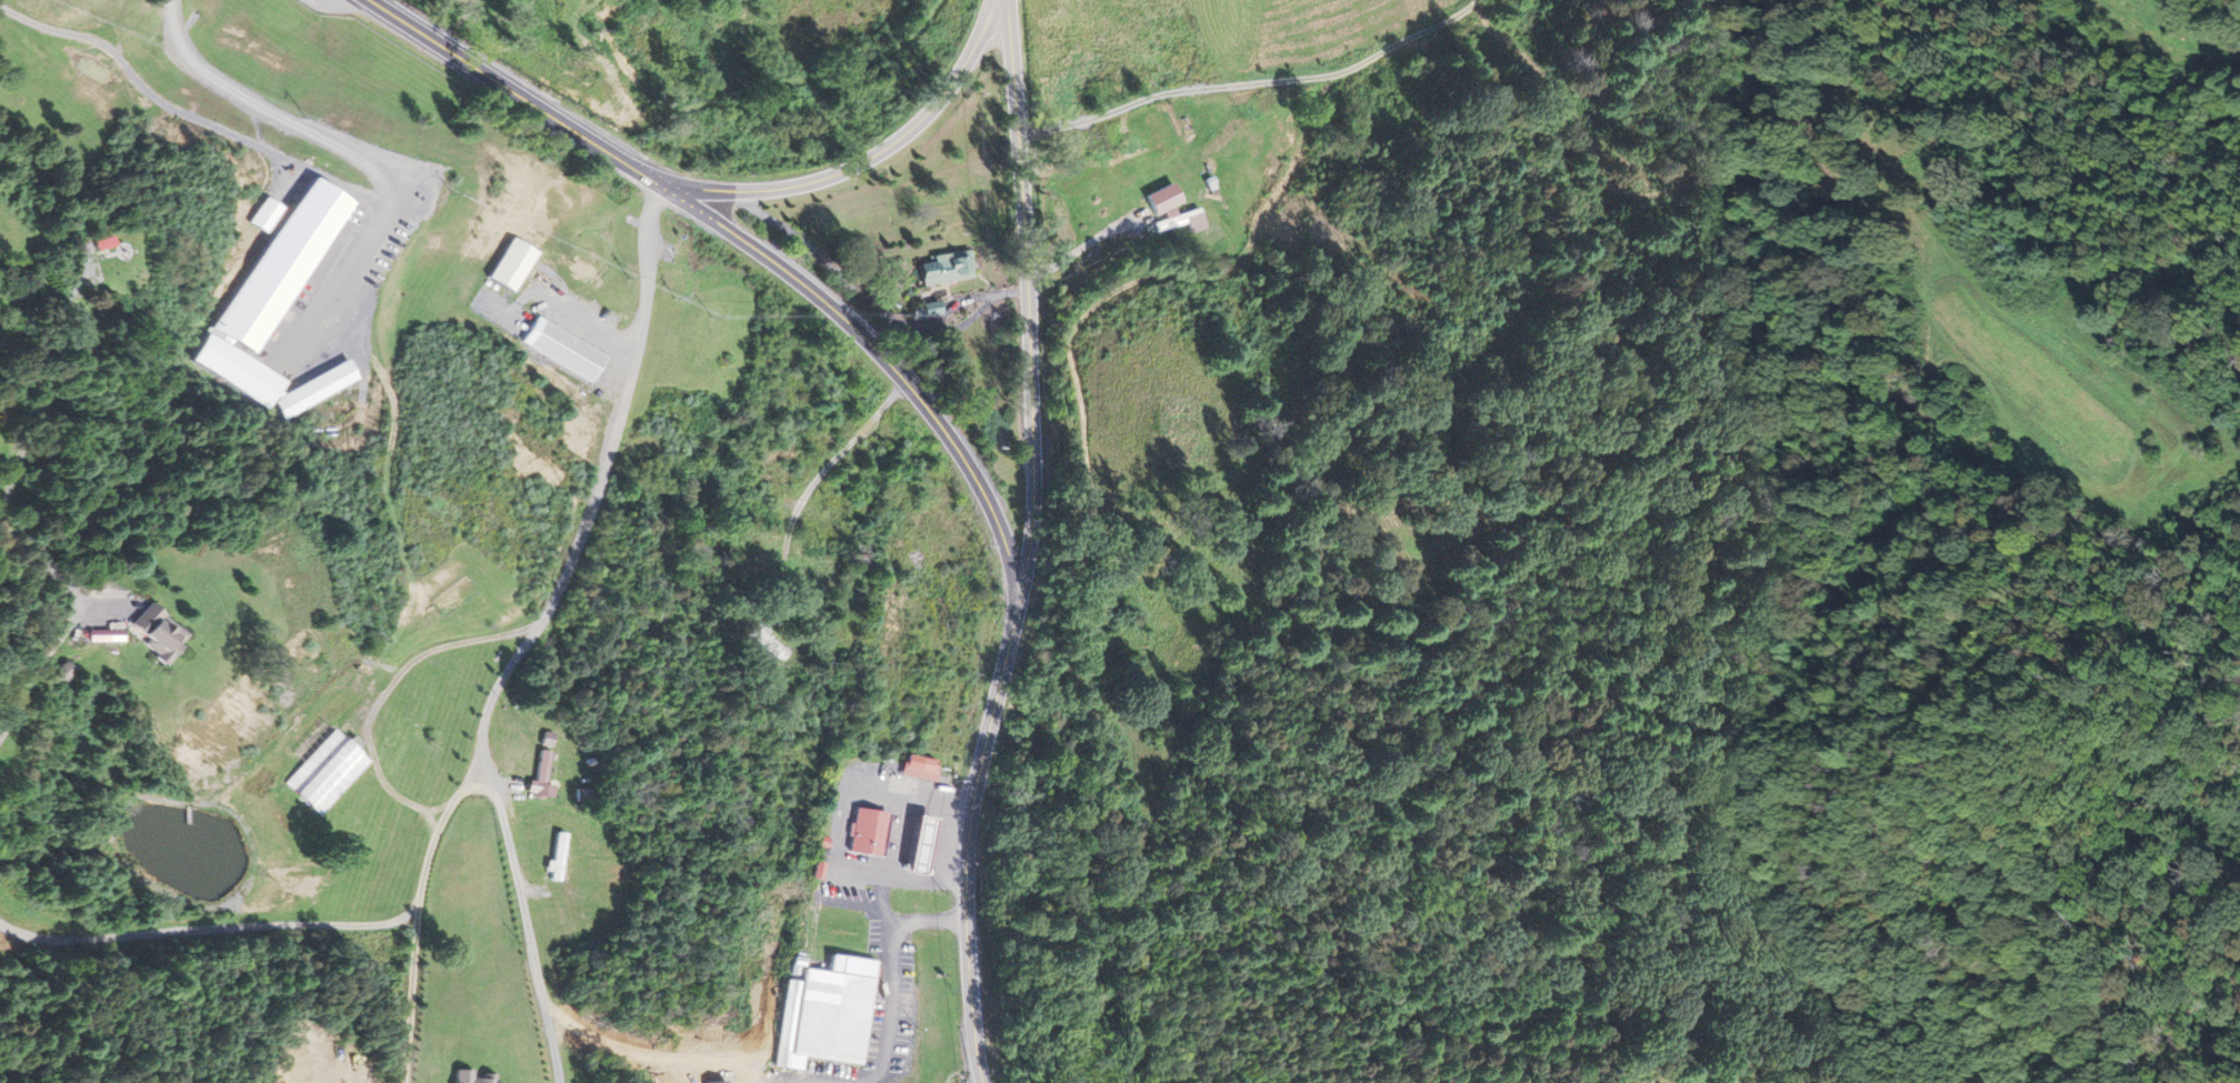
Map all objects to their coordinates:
road: (336, 6)
road: (264, 107)
road: (1232, 142)
road: (862, 163)
building: (1181, 222)
road: (748, 244)
building: (110, 250)
building: (508, 265)
building: (943, 269)
park: (107, 282)
building: (268, 293)
building: (562, 350)
building: (313, 389)
road: (36, 419)
road: (1032, 544)
road: (38, 560)
road: (531, 630)
building: (150, 633)
building: (763, 639)
building: (543, 740)
building: (917, 769)
building: (324, 773)
building: (538, 774)
building: (864, 833)
building: (917, 845)
building: (554, 856)
building: (831, 1010)
building: (471, 1076)

